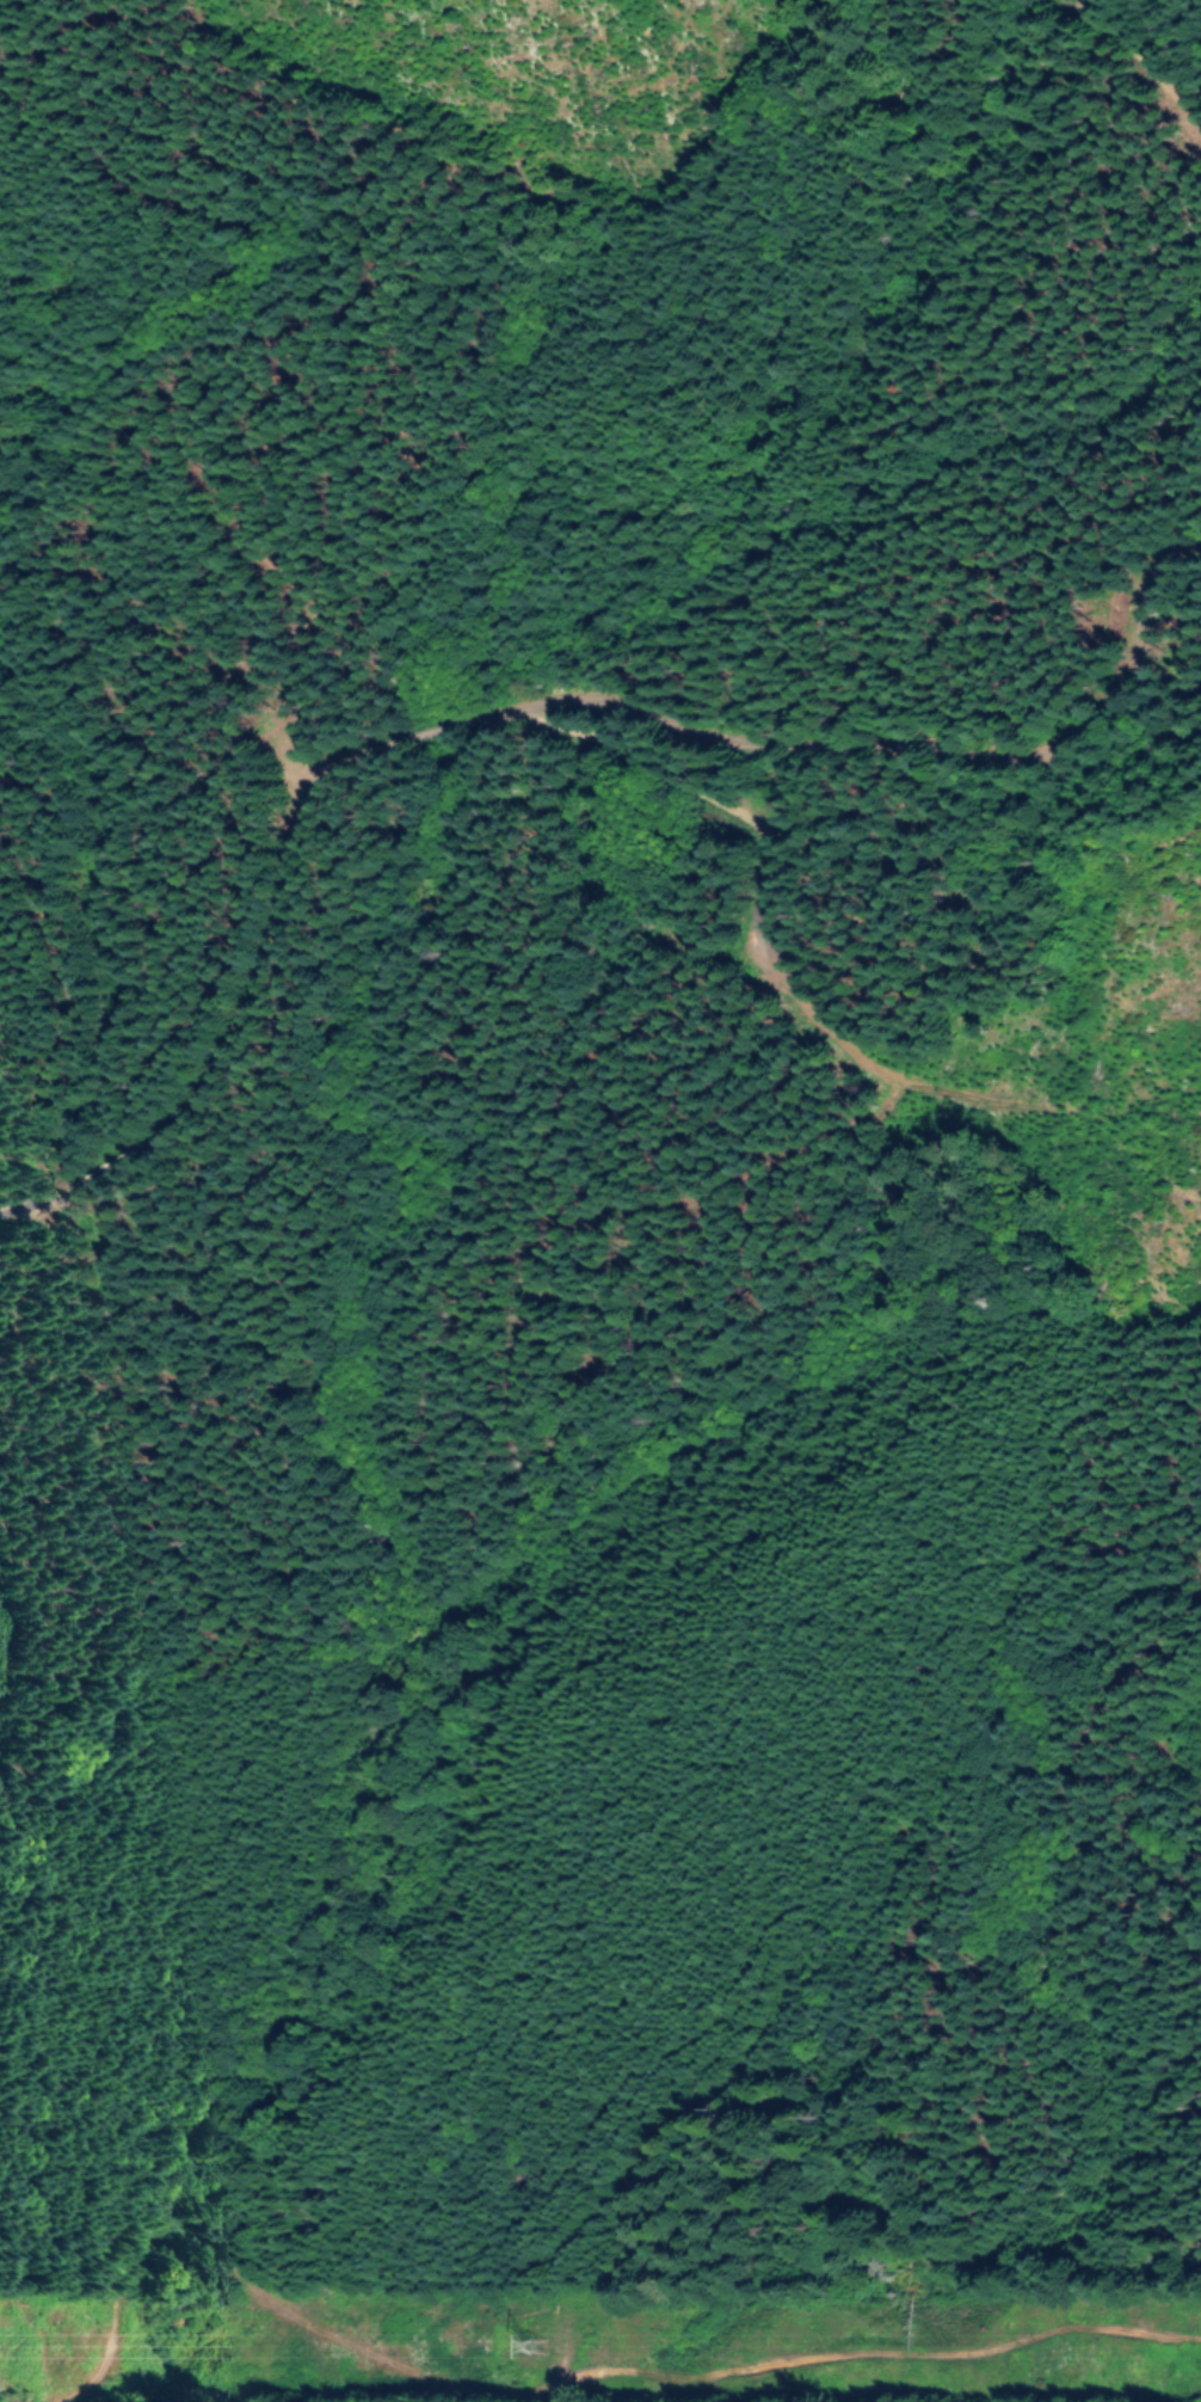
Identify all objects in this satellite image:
road: (1126, 79)
power tower: (528, 2332)

